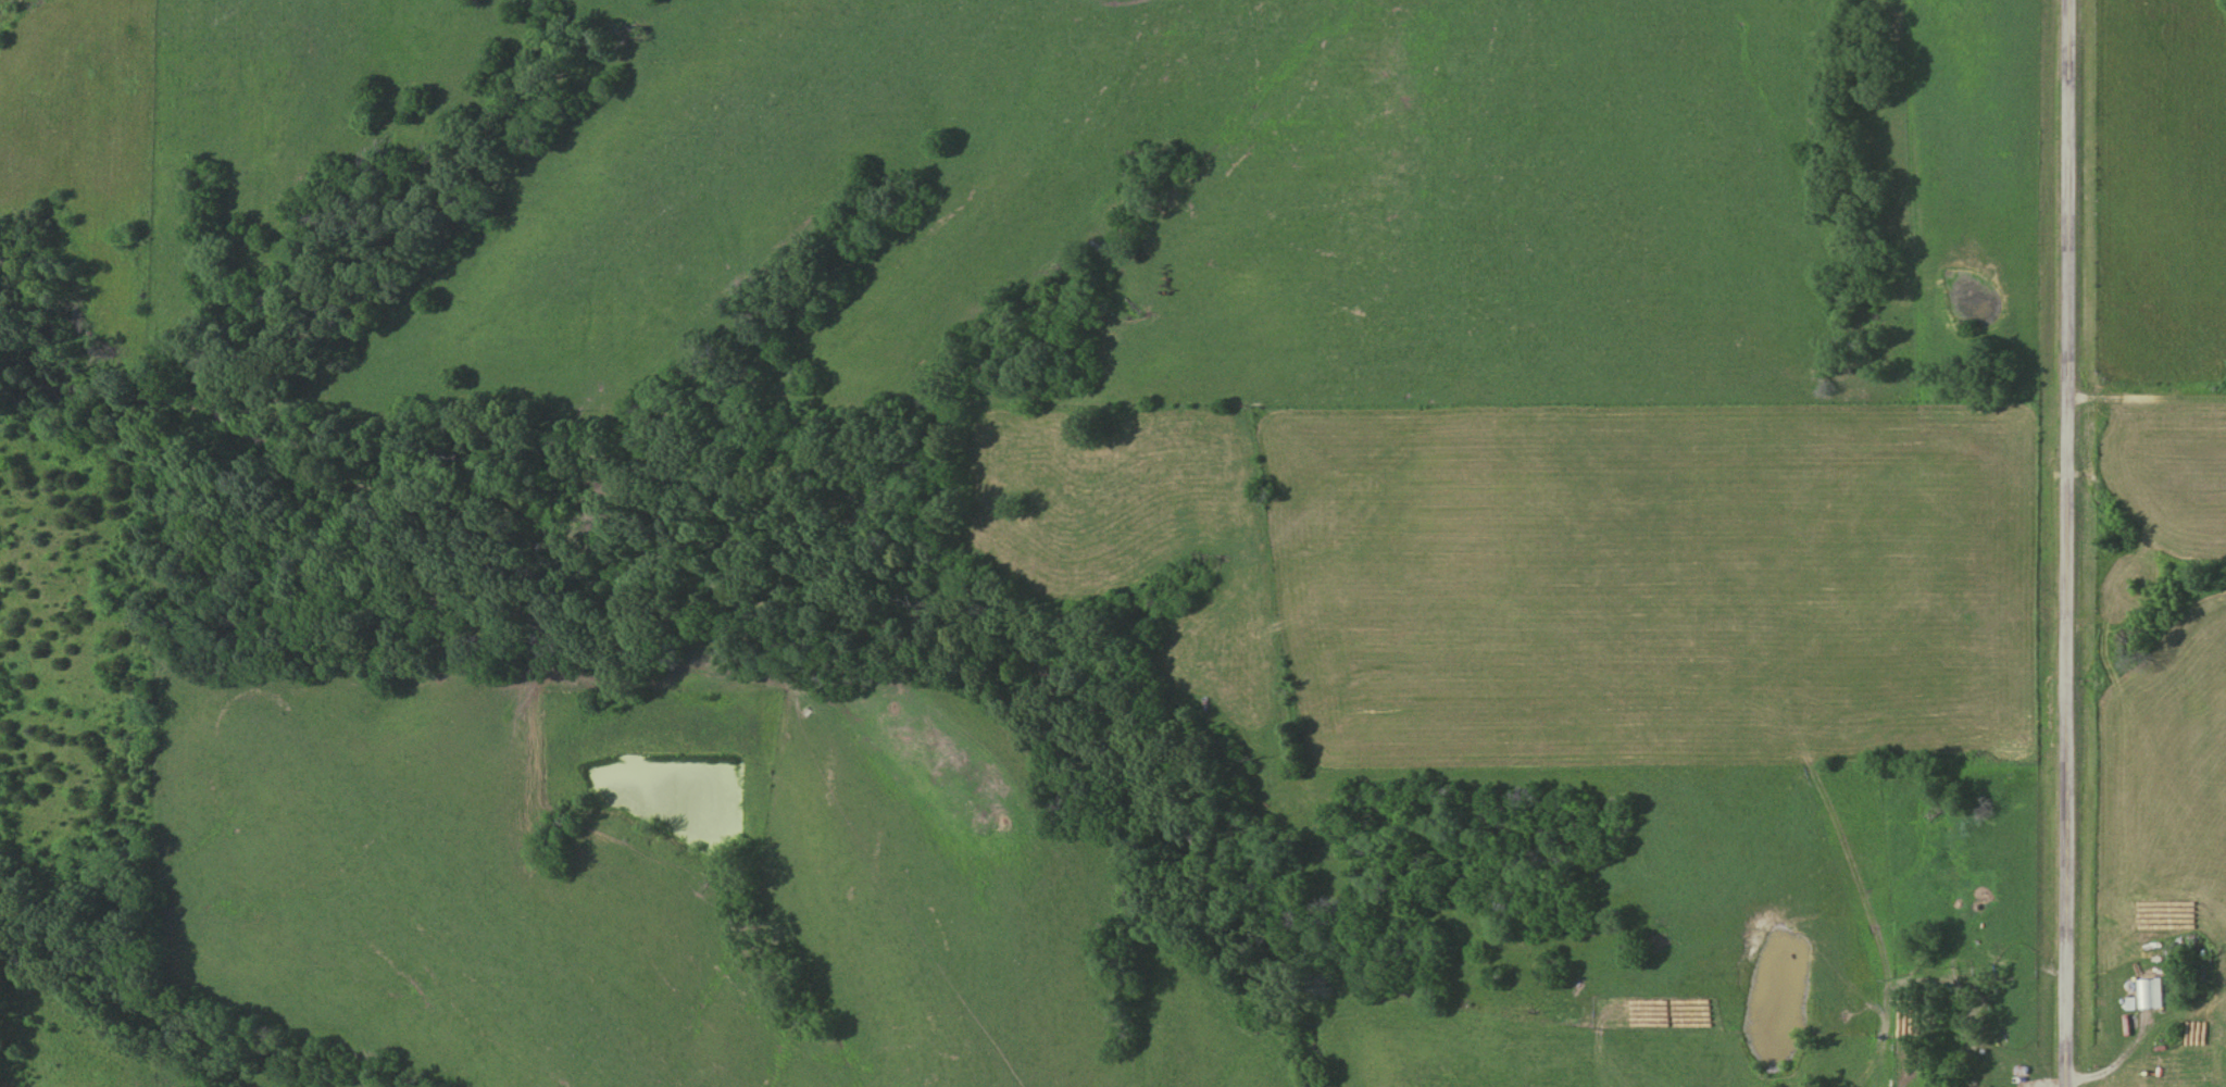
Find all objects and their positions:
road: (2065, 201)
road: (2147, 402)
road: (2066, 745)
building: (2137, 1003)

